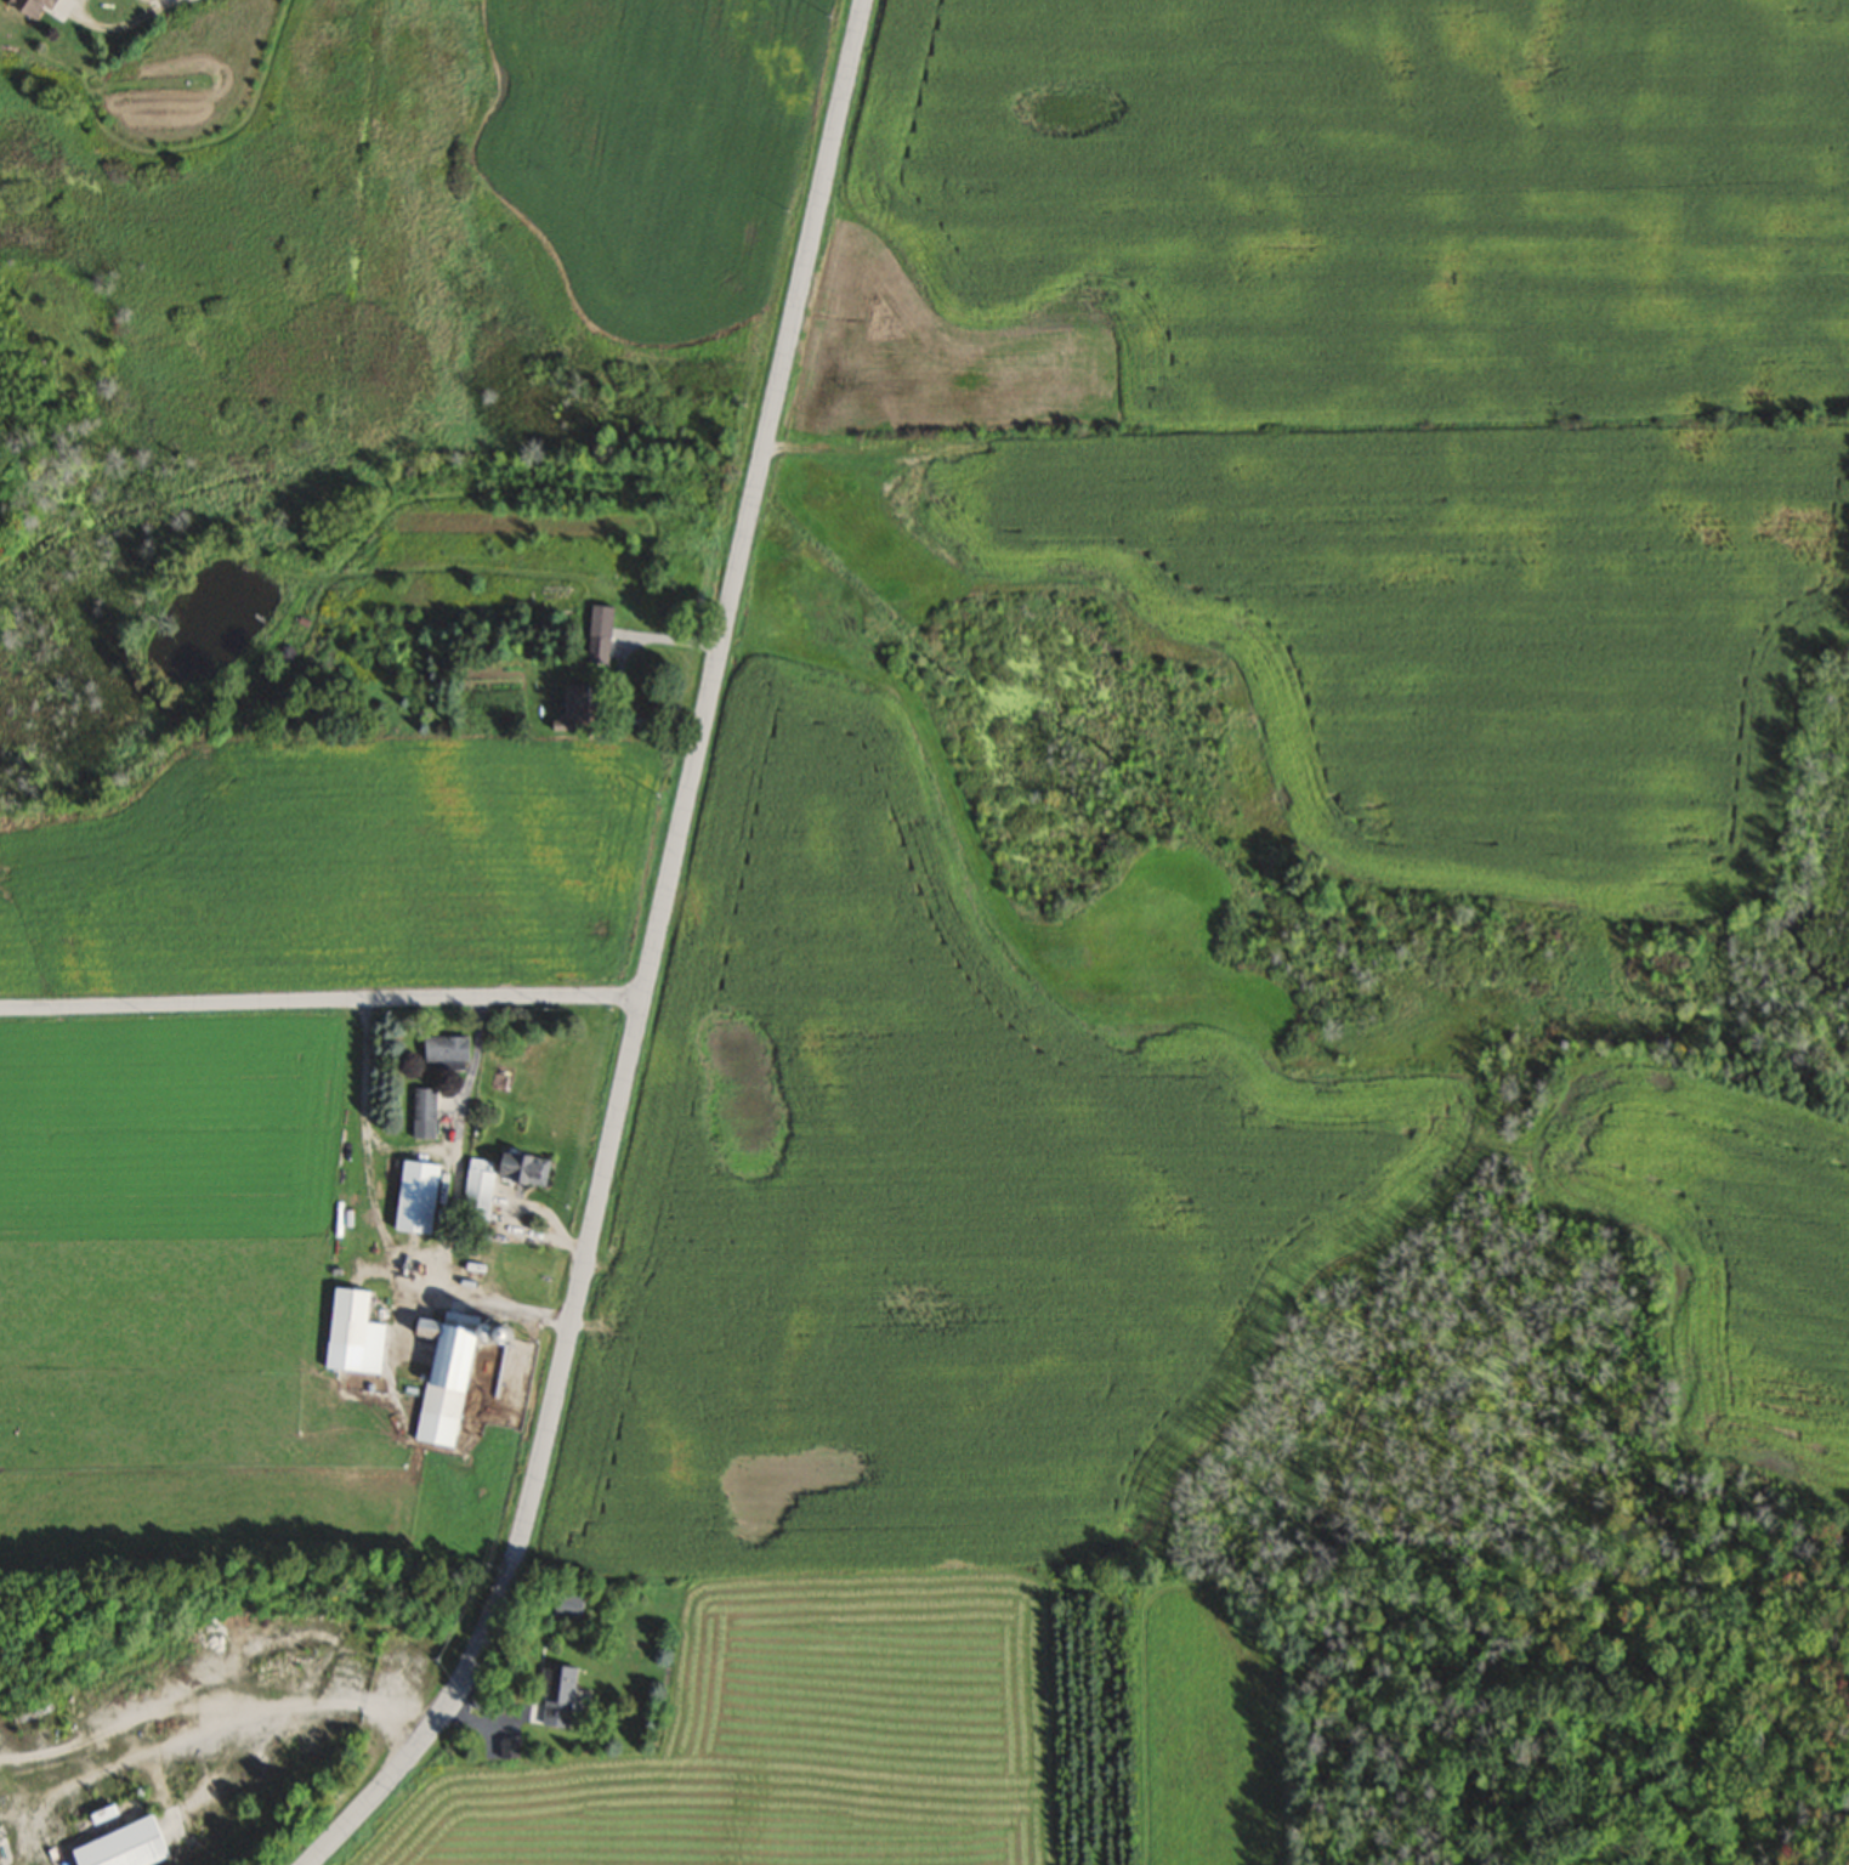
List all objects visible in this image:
building: (24, 6)
road: (160, 10)
building: (596, 633)
building: (569, 701)
road: (652, 962)
road: (322, 999)
building: (444, 1051)
building: (420, 1112)
building: (412, 1196)
building: (473, 1200)
building: (351, 1333)
building: (447, 1370)
building: (566, 1604)
building: (345, 1667)
building: (552, 1696)
building: (118, 1846)

